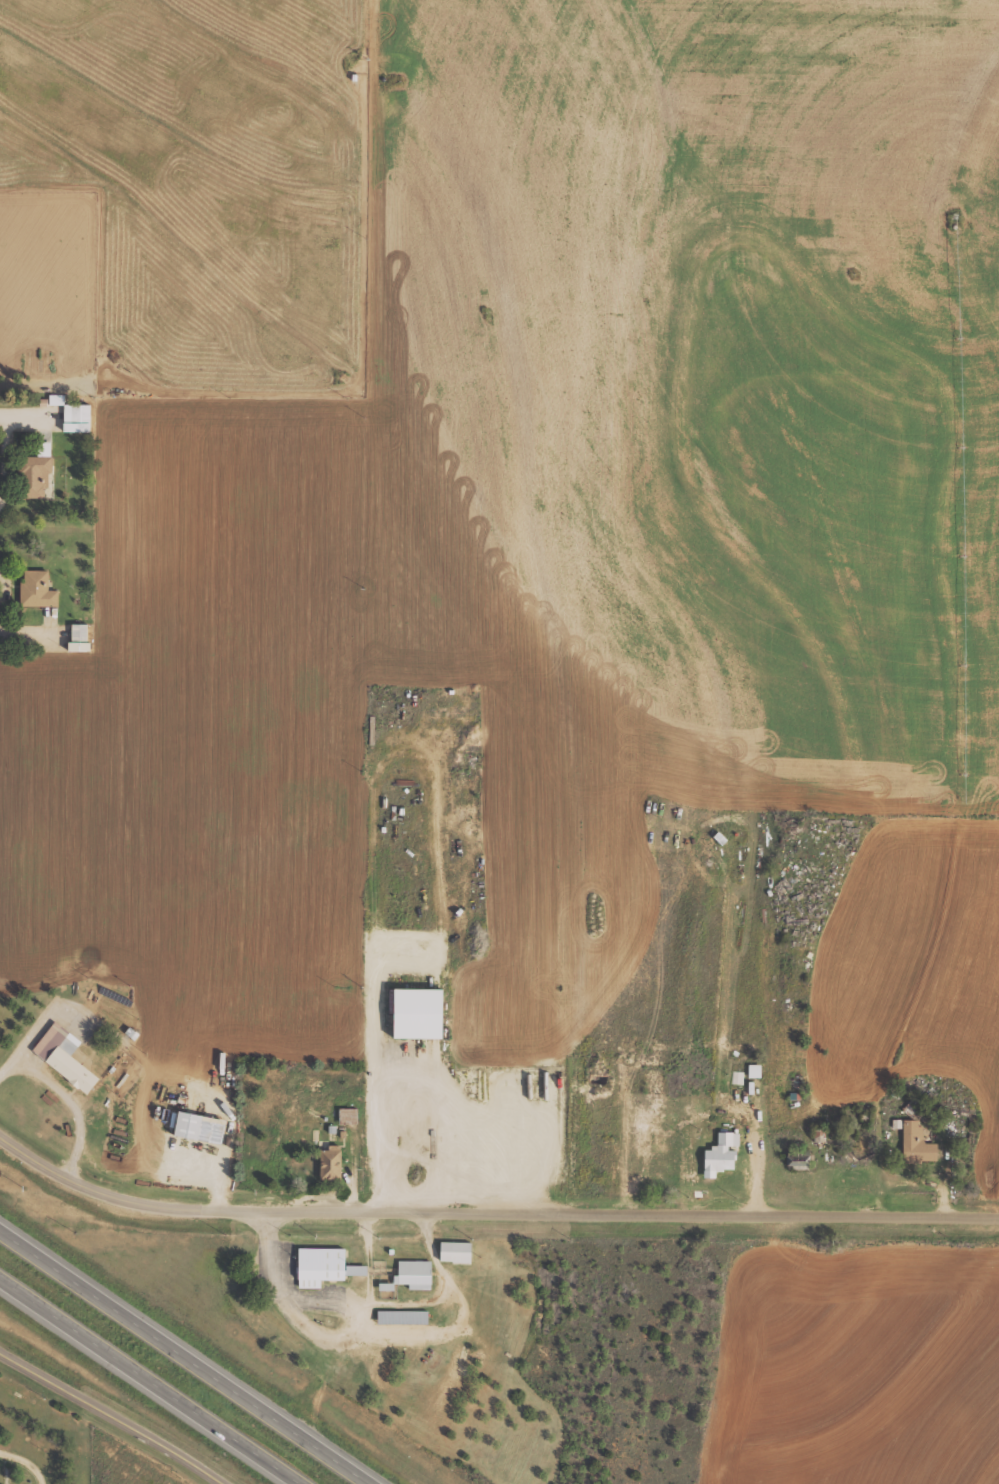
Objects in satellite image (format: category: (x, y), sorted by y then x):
building: (57, 399)
building: (78, 418)
building: (35, 476)
building: (38, 590)
building: (80, 638)
building: (411, 1021)
building: (63, 1056)
building: (756, 1071)
building: (738, 1077)
building: (198, 1128)
building: (918, 1144)
building: (722, 1154)
building: (800, 1159)
building: (332, 1163)
road: (491, 1208)
building: (457, 1250)
building: (321, 1267)
building: (413, 1274)
building: (401, 1317)
road: (187, 1355)
road: (154, 1378)
road: (113, 1415)

